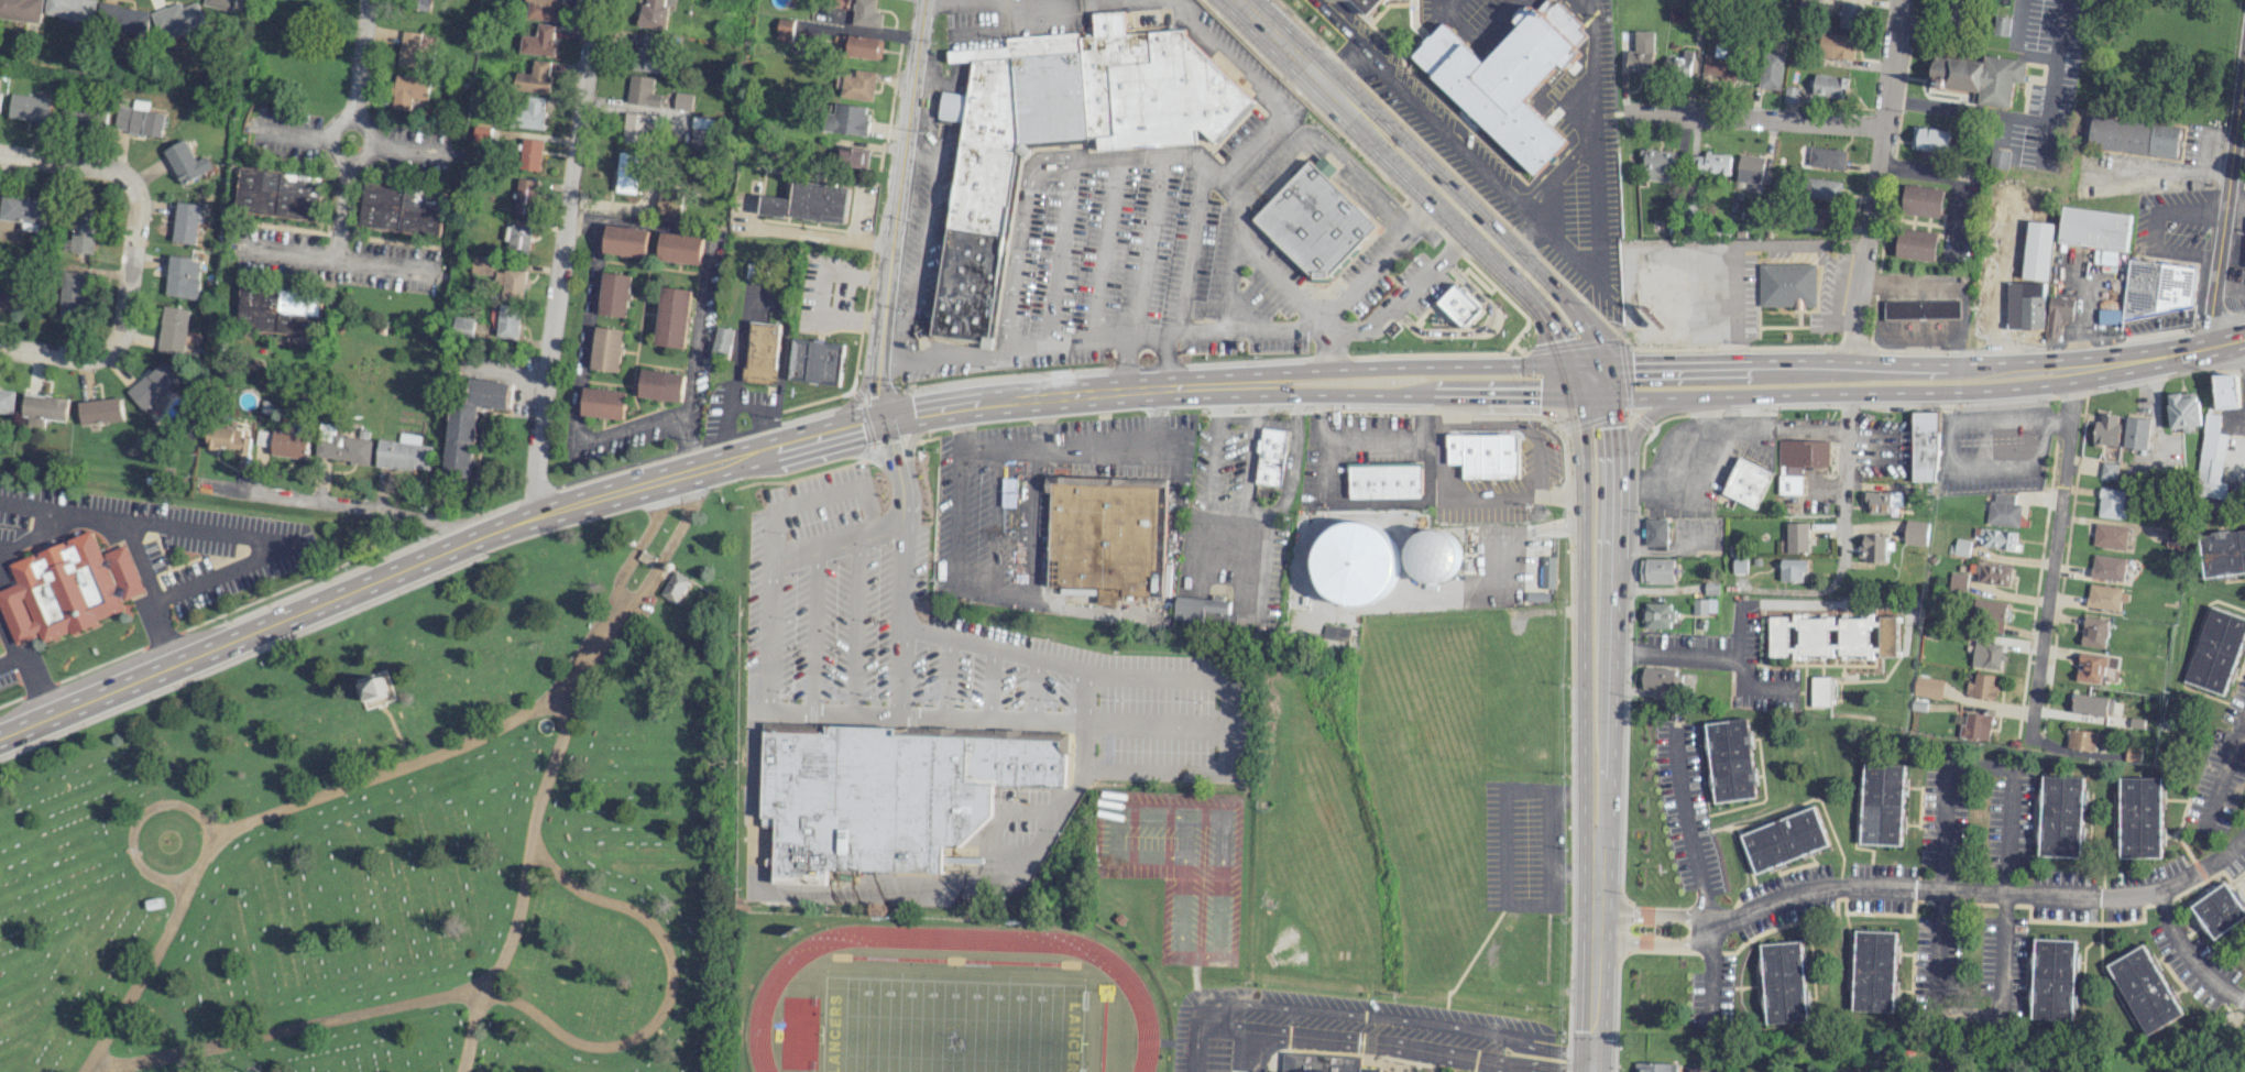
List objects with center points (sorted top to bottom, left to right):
road: (972, 1)
building: (219, 3)
building: (420, 4)
road: (1000, 4)
building: (1368, 4)
building: (72, 9)
building: (543, 9)
building: (21, 10)
building: (651, 13)
building: (866, 13)
building: (129, 18)
building: (178, 19)
road: (365, 19)
road: (1337, 24)
building: (2001, 24)
building: (804, 33)
building: (539, 41)
road: (1281, 43)
building: (1837, 45)
building: (862, 46)
road: (2014, 46)
building: (415, 51)
building: (1641, 53)
building: (650, 54)
road: (1228, 58)
building: (1724, 66)
road: (1344, 67)
building: (1770, 69)
building: (537, 76)
building: (1981, 76)
building: (1508, 79)
building: (855, 84)
building: (408, 90)
building: (642, 91)
building: (682, 100)
building: (29, 107)
building: (87, 111)
building: (534, 112)
building: (848, 119)
building: (139, 120)
road: (1753, 120)
road: (2027, 120)
building: (636, 127)
building: (1060, 129)
road: (1445, 130)
building: (700, 132)
building: (482, 133)
road: (1261, 133)
building: (2133, 135)
building: (1932, 139)
road: (351, 142)
road: (2204, 147)
building: (530, 154)
building: (854, 156)
building: (186, 162)
building: (1656, 163)
building: (1711, 163)
road: (64, 164)
building: (1749, 167)
building: (628, 173)
road: (1562, 173)
road: (2157, 175)
road: (1362, 177)
road: (1597, 177)
road: (898, 178)
road: (1874, 179)
road: (343, 188)
building: (281, 194)
road: (2224, 195)
building: (525, 196)
building: (1923, 199)
building: (809, 203)
building: (668, 204)
building: (402, 209)
building: (24, 211)
road: (1237, 211)
road: (1416, 212)
road: (1475, 212)
road: (1533, 216)
building: (1316, 219)
building: (186, 222)
road: (2154, 229)
building: (2095, 230)
building: (85, 231)
road: (796, 233)
road: (1525, 234)
road: (1018, 236)
road: (1459, 236)
building: (517, 238)
building: (626, 241)
road: (922, 241)
road: (1793, 244)
building: (1917, 244)
road: (1141, 245)
road: (1854, 247)
building: (680, 248)
road: (1103, 249)
road: (1058, 252)
road: (562, 259)
road: (382, 265)
building: (482, 265)
road: (1366, 273)
building: (183, 276)
road: (1186, 276)
road: (700, 282)
building: (513, 284)
building: (1785, 284)
building: (2156, 286)
road: (1225, 287)
building: (615, 294)
building: (74, 295)
road: (1833, 296)
building: (12, 299)
road: (1400, 299)
road: (1732, 302)
building: (1459, 306)
building: (1923, 308)
building: (280, 310)
building: (2029, 310)
road: (1245, 311)
building: (2058, 314)
road: (122, 316)
building: (673, 317)
building: (508, 321)
building: (463, 325)
building: (173, 330)
road: (1477, 330)
road: (1246, 331)
road: (1145, 341)
traffic signals: (1553, 341)
road: (2225, 341)
building: (723, 342)
road: (1014, 348)
building: (609, 349)
building: (763, 352)
road: (2223, 357)
road: (891, 358)
road: (2138, 359)
road: (1645, 361)
building: (815, 362)
traffic signals: (1631, 362)
road: (1902, 362)
road: (1125, 365)
road: (1410, 367)
road: (580, 381)
building: (152, 385)
building: (661, 385)
road: (876, 389)
building: (2226, 391)
road: (1825, 392)
road: (1095, 393)
road: (1416, 395)
traffic signals: (1538, 397)
road: (854, 398)
building: (604, 403)
building: (42, 409)
road: (1452, 409)
building: (2182, 409)
building: (99, 411)
road: (1705, 417)
building: (164, 419)
traffic signals: (885, 419)
road: (878, 420)
building: (470, 423)
road: (1516, 424)
traffic signals: (1616, 426)
road: (1638, 427)
building: (2106, 429)
building: (2136, 431)
road: (1438, 437)
building: (227, 438)
road: (909, 438)
road: (1368, 438)
building: (289, 444)
road: (889, 445)
road: (1693, 445)
building: (346, 447)
building: (1924, 447)
road: (1086, 448)
road: (861, 451)
building: (1483, 452)
building: (402, 456)
building: (1270, 457)
road: (1211, 459)
building: (2110, 470)
building: (1383, 479)
road: (1844, 481)
building: (1748, 482)
road: (1553, 493)
road: (1470, 499)
road: (1377, 501)
building: (2114, 503)
road: (339, 505)
road: (797, 506)
road: (1258, 510)
building: (2003, 510)
road: (995, 521)
building: (1916, 532)
road: (229, 533)
building: (1656, 534)
building: (1100, 535)
building: (2111, 535)
building: (1798, 537)
building: (1996, 538)
building: (2175, 539)
building: (1960, 547)
building: (1875, 548)
building: (1433, 554)
storage tank: (1433, 554)
road: (2051, 556)
building: (1355, 561)
storage tank: (1355, 561)
building: (1756, 561)
building: (1739, 566)
road: (406, 567)
road: (1260, 567)
building: (2107, 568)
building: (1656, 570)
building: (1792, 570)
building: (1549, 571)
building: (1994, 575)
building: (1958, 581)
road: (1168, 586)
road: (1, 587)
building: (675, 587)
building: (1711, 588)
building: (67, 589)
road: (1003, 593)
building: (1538, 595)
building: (2106, 598)
road: (625, 604)
road: (1813, 605)
building: (1704, 606)
building: (1202, 610)
road: (1617, 611)
building: (1987, 613)
road: (13, 615)
building: (1657, 615)
street lamp: (793, 619)
road: (855, 620)
road: (813, 625)
road: (1584, 628)
road: (1740, 632)
building: (2094, 632)
building: (1819, 636)
building: (1887, 636)
road: (25, 649)
building: (2216, 649)
road: (1713, 654)
building: (1986, 655)
building: (2093, 667)
road: (33, 674)
road: (945, 676)
building: (1662, 679)
road: (988, 682)
building: (1927, 686)
road: (1033, 688)
building: (1981, 688)
building: (375, 690)
building: (1819, 691)
road: (1078, 692)
street lamp: (874, 696)
flagpole: (840, 701)
building: (1918, 705)
building: (2091, 705)
road: (808, 710)
road: (1149, 722)
building: (1975, 726)
road: (2239, 731)
building: (2083, 740)
road: (1220, 746)
building: (2133, 754)
building: (1731, 759)
road: (2223, 766)
road: (390, 770)
building: (890, 794)
building: (1882, 805)
road: (143, 811)
building: (2062, 816)
building: (2140, 818)
park: (407, 831)
road: (529, 839)
building: (1785, 839)
road: (2203, 867)
road: (1695, 873)
road: (858, 886)
road: (2001, 895)
building: (2219, 910)
road: (1652, 915)
road: (1652, 942)
road: (1592, 964)
building: (1874, 971)
road: (140, 976)
building: (2055, 978)
building: (1784, 982)
building: (2146, 989)
road: (670, 993)
track: (1135, 998)
road: (1937, 1011)
park: (949, 1021)
road: (1218, 1024)
park: (949, 1025)
road: (288, 1028)
road: (1563, 1049)
building: (1323, 1061)
traffic signals: (1591, 1061)
building: (1655, 1066)
road: (1516, 1069)
building: (1260, 1071)

